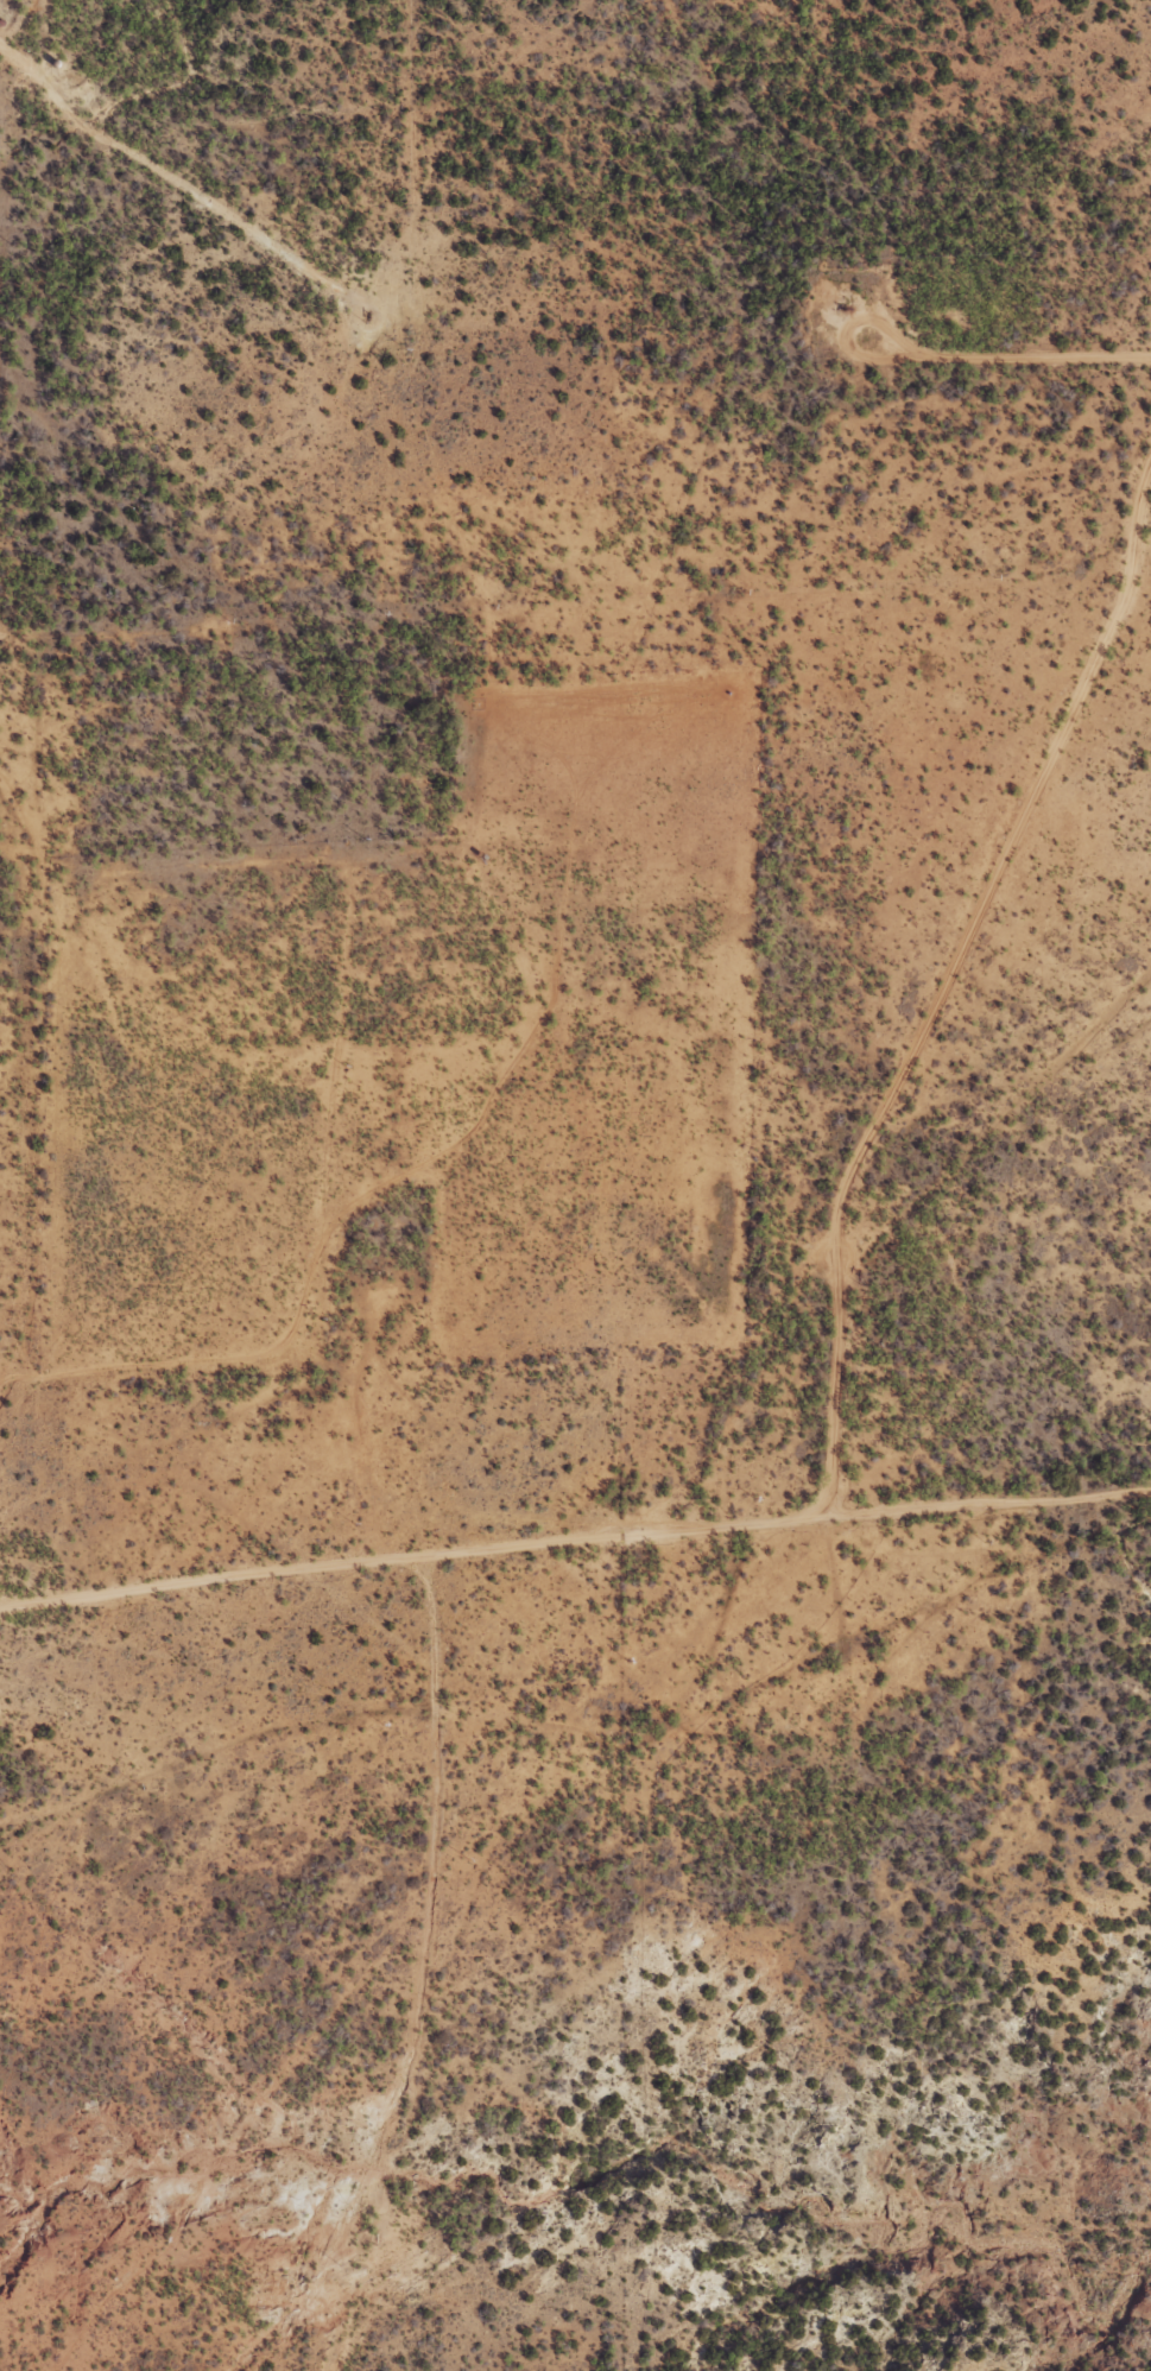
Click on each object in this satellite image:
road: (356, 299)
road: (1013, 377)
road: (33, 1134)
road: (2, 1383)
road: (374, 1442)
road: (575, 1573)
road: (441, 1952)

